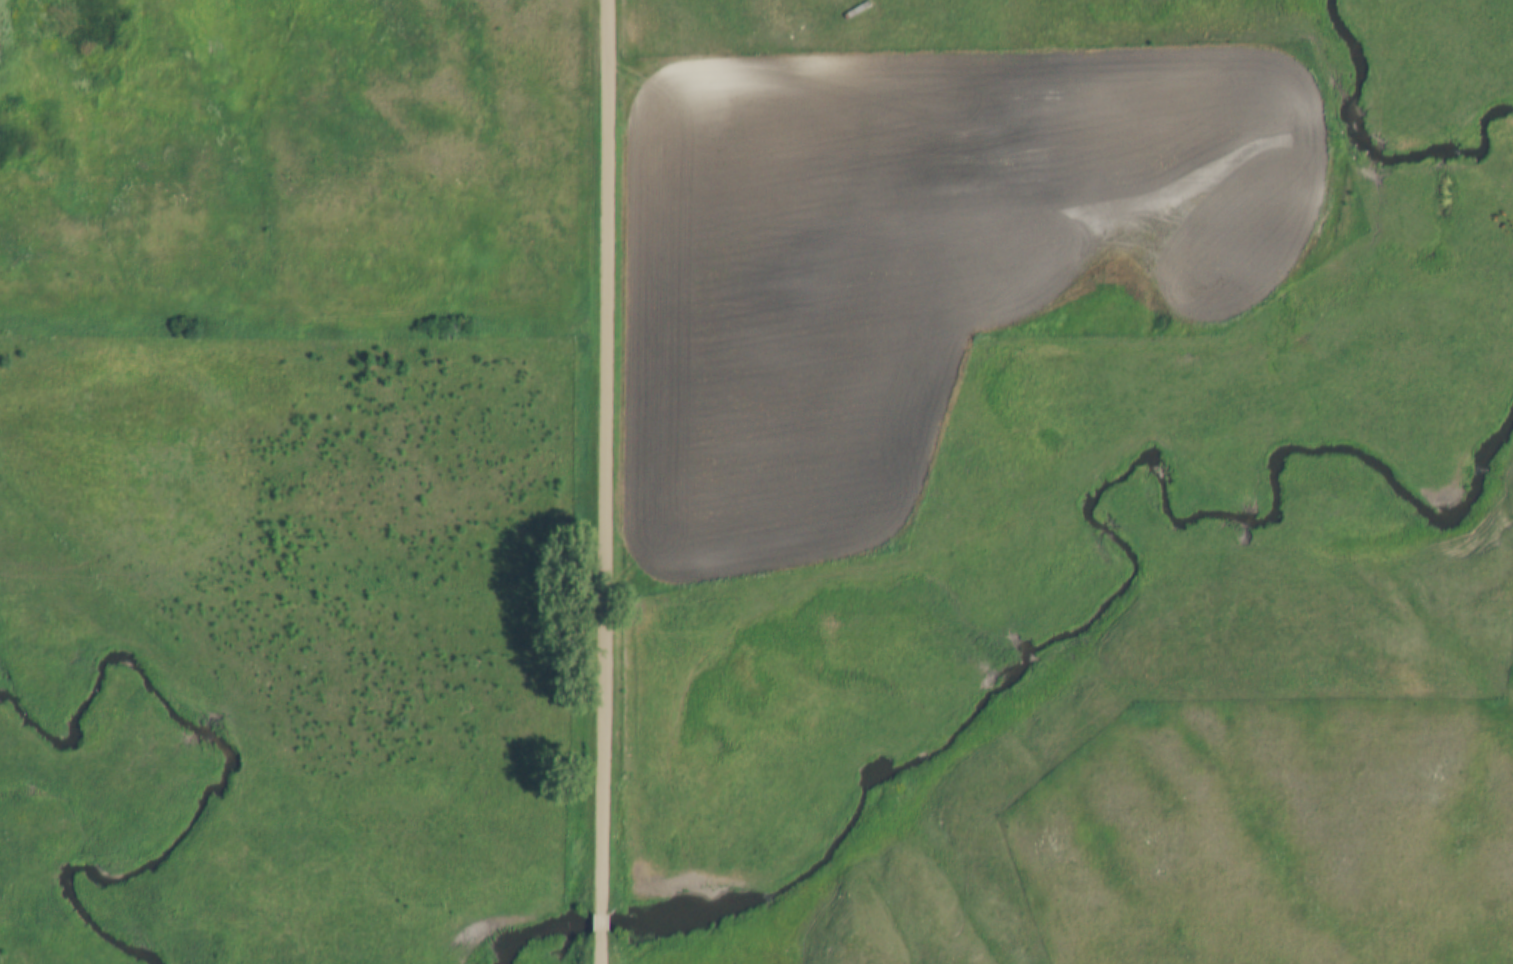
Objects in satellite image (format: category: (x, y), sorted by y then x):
road: (604, 456)
road: (604, 922)
road: (603, 948)

